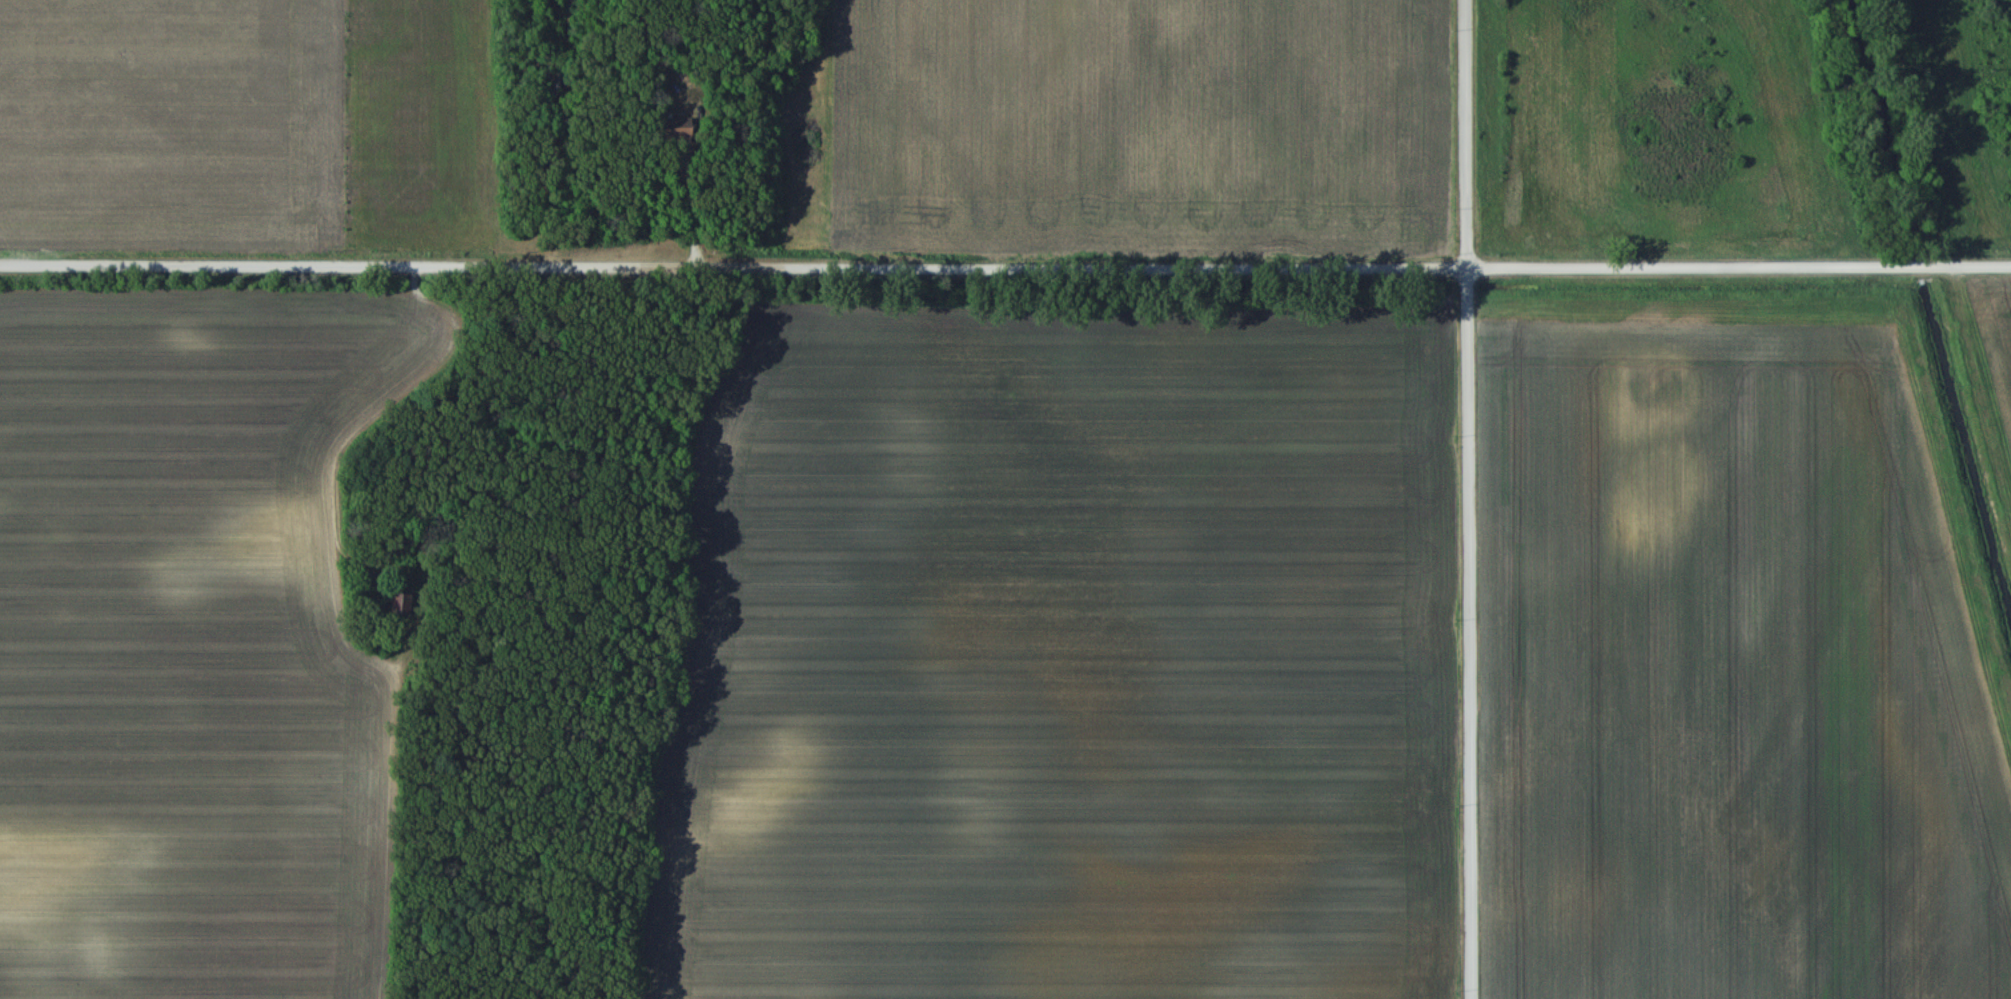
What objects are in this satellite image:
road: (694, 204)
road: (1948, 262)
road: (942, 265)
road: (391, 412)
road: (1467, 499)

